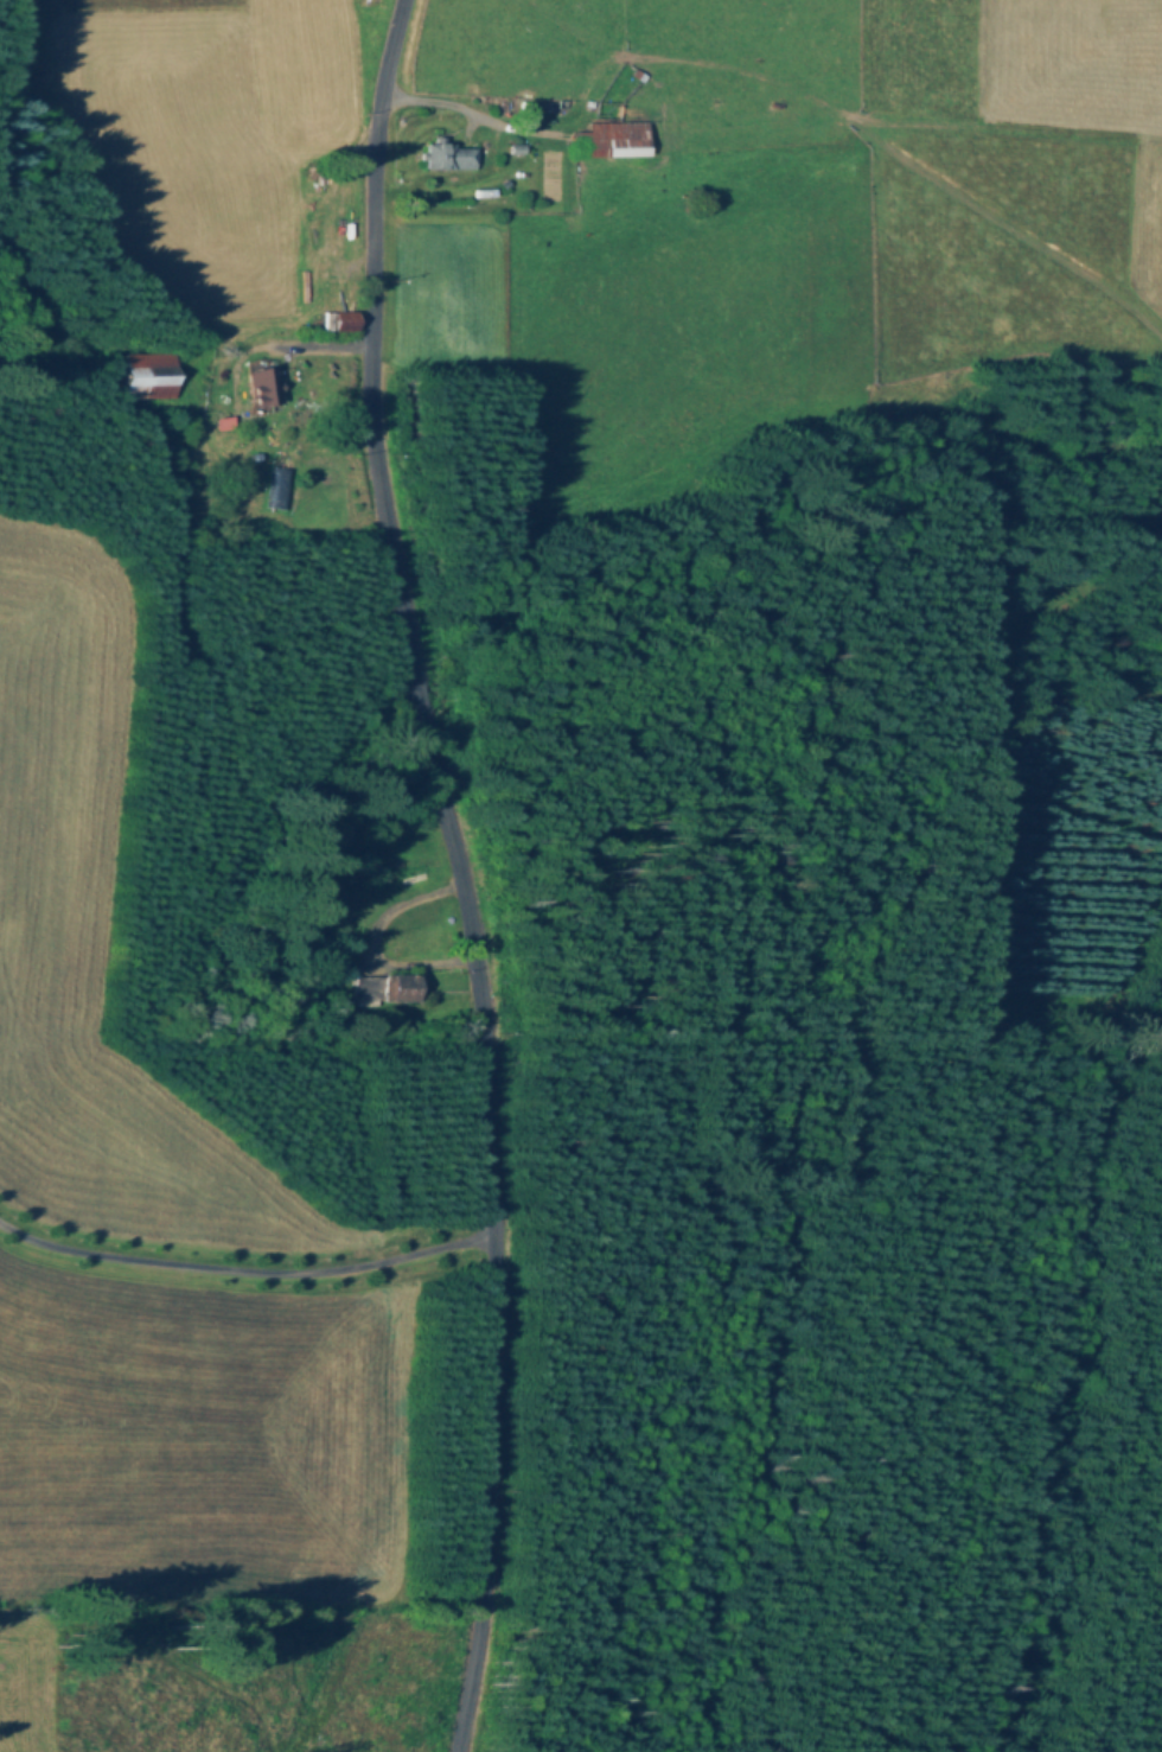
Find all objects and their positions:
building: (608, 141)
building: (442, 158)
building: (146, 377)
building: (260, 390)
building: (165, 466)
building: (276, 490)
road: (454, 872)
building: (387, 990)
road: (242, 1264)

